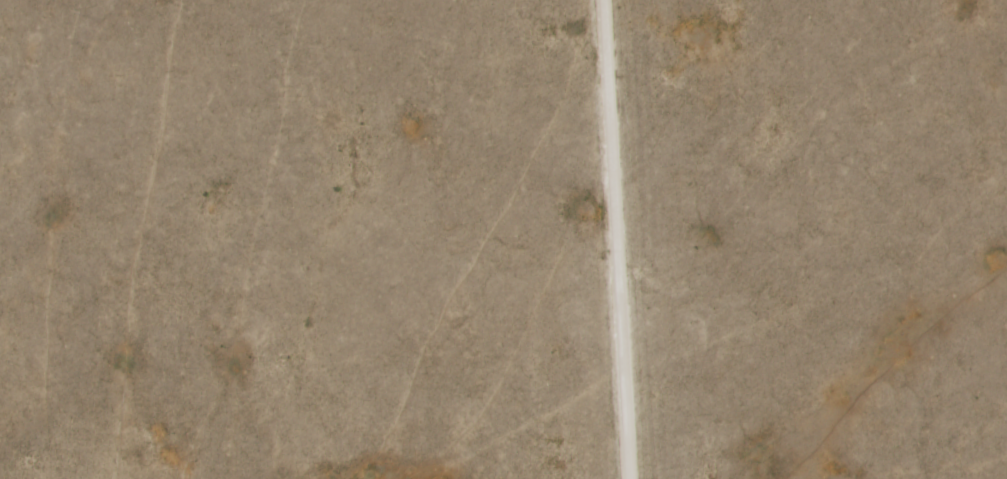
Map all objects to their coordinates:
road: (616, 239)

